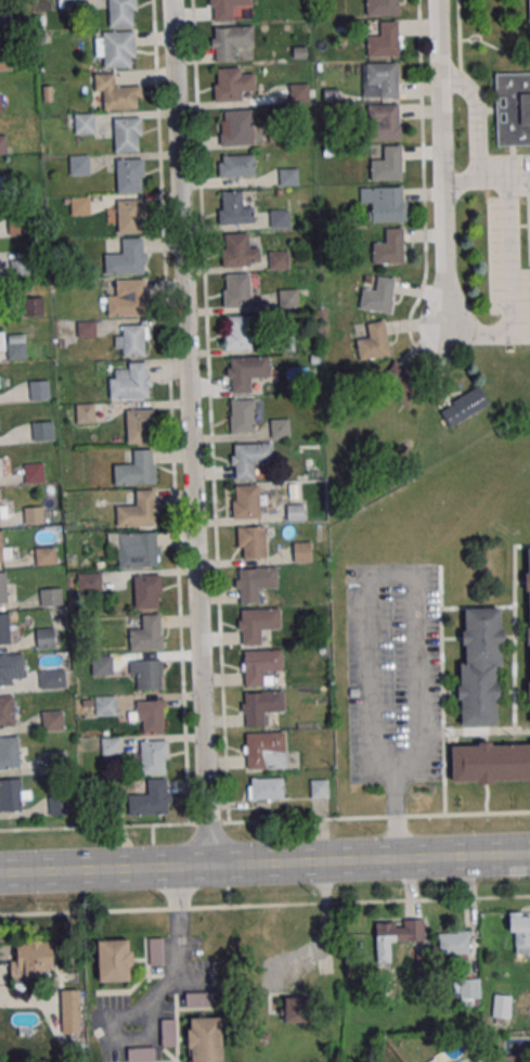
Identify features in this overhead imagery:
building: (70, 4)
building: (382, 7)
building: (225, 9)
building: (529, 10)
building: (121, 13)
building: (8, 17)
building: (384, 40)
building: (232, 43)
building: (116, 48)
building: (231, 82)
building: (117, 92)
building: (297, 92)
building: (513, 108)
building: (383, 120)
building: (85, 123)
building: (236, 127)
road: (475, 131)
building: (127, 133)
building: (2, 144)
road: (440, 163)
building: (387, 164)
building: (79, 165)
building: (236, 166)
building: (129, 176)
building: (287, 177)
road: (503, 178)
building: (5, 184)
building: (386, 203)
building: (79, 205)
building: (234, 208)
building: (128, 216)
building: (280, 218)
building: (17, 226)
parking lot: (507, 243)
building: (392, 244)
building: (238, 251)
building: (127, 257)
building: (279, 259)
road: (506, 266)
building: (20, 267)
building: (236, 290)
building: (378, 295)
building: (128, 297)
building: (287, 298)
building: (35, 306)
building: (86, 329)
road: (477, 331)
building: (238, 332)
building: (131, 340)
building: (373, 341)
building: (0, 344)
building: (246, 373)
building: (130, 381)
building: (399, 383)
building: (39, 389)
building: (463, 406)
building: (83, 412)
building: (242, 415)
building: (140, 425)
building: (280, 428)
building: (41, 431)
road: (186, 433)
building: (249, 459)
building: (135, 468)
building: (34, 472)
building: (246, 501)
building: (2, 504)
building: (138, 509)
building: (295, 512)
building: (34, 515)
building: (251, 541)
building: (135, 548)
building: (301, 551)
building: (5, 552)
building: (44, 555)
building: (89, 581)
building: (256, 583)
building: (2, 587)
building: (146, 591)
building: (51, 596)
road: (370, 602)
building: (528, 619)
building: (257, 623)
building: (4, 629)
building: (146, 634)
building: (44, 638)
building: (102, 665)
building: (260, 665)
building: (481, 667)
building: (11, 668)
building: (146, 675)
building: (52, 679)
building: (105, 705)
building: (260, 706)
building: (7, 711)
building: (148, 715)
building: (52, 720)
building: (262, 747)
building: (9, 752)
building: (152, 756)
building: (53, 760)
building: (490, 762)
building: (267, 789)
building: (319, 789)
building: (12, 794)
building: (151, 798)
building: (59, 805)
road: (264, 821)
road: (264, 861)
road: (264, 905)
road: (327, 932)
building: (519, 932)
building: (396, 935)
building: (453, 943)
building: (153, 950)
building: (31, 958)
building: (114, 960)
road: (178, 971)
building: (469, 990)
building: (198, 1000)
building: (70, 1007)
building: (501, 1008)
building: (297, 1009)
building: (168, 1033)
building: (206, 1039)
building: (141, 1054)
building: (507, 1058)

